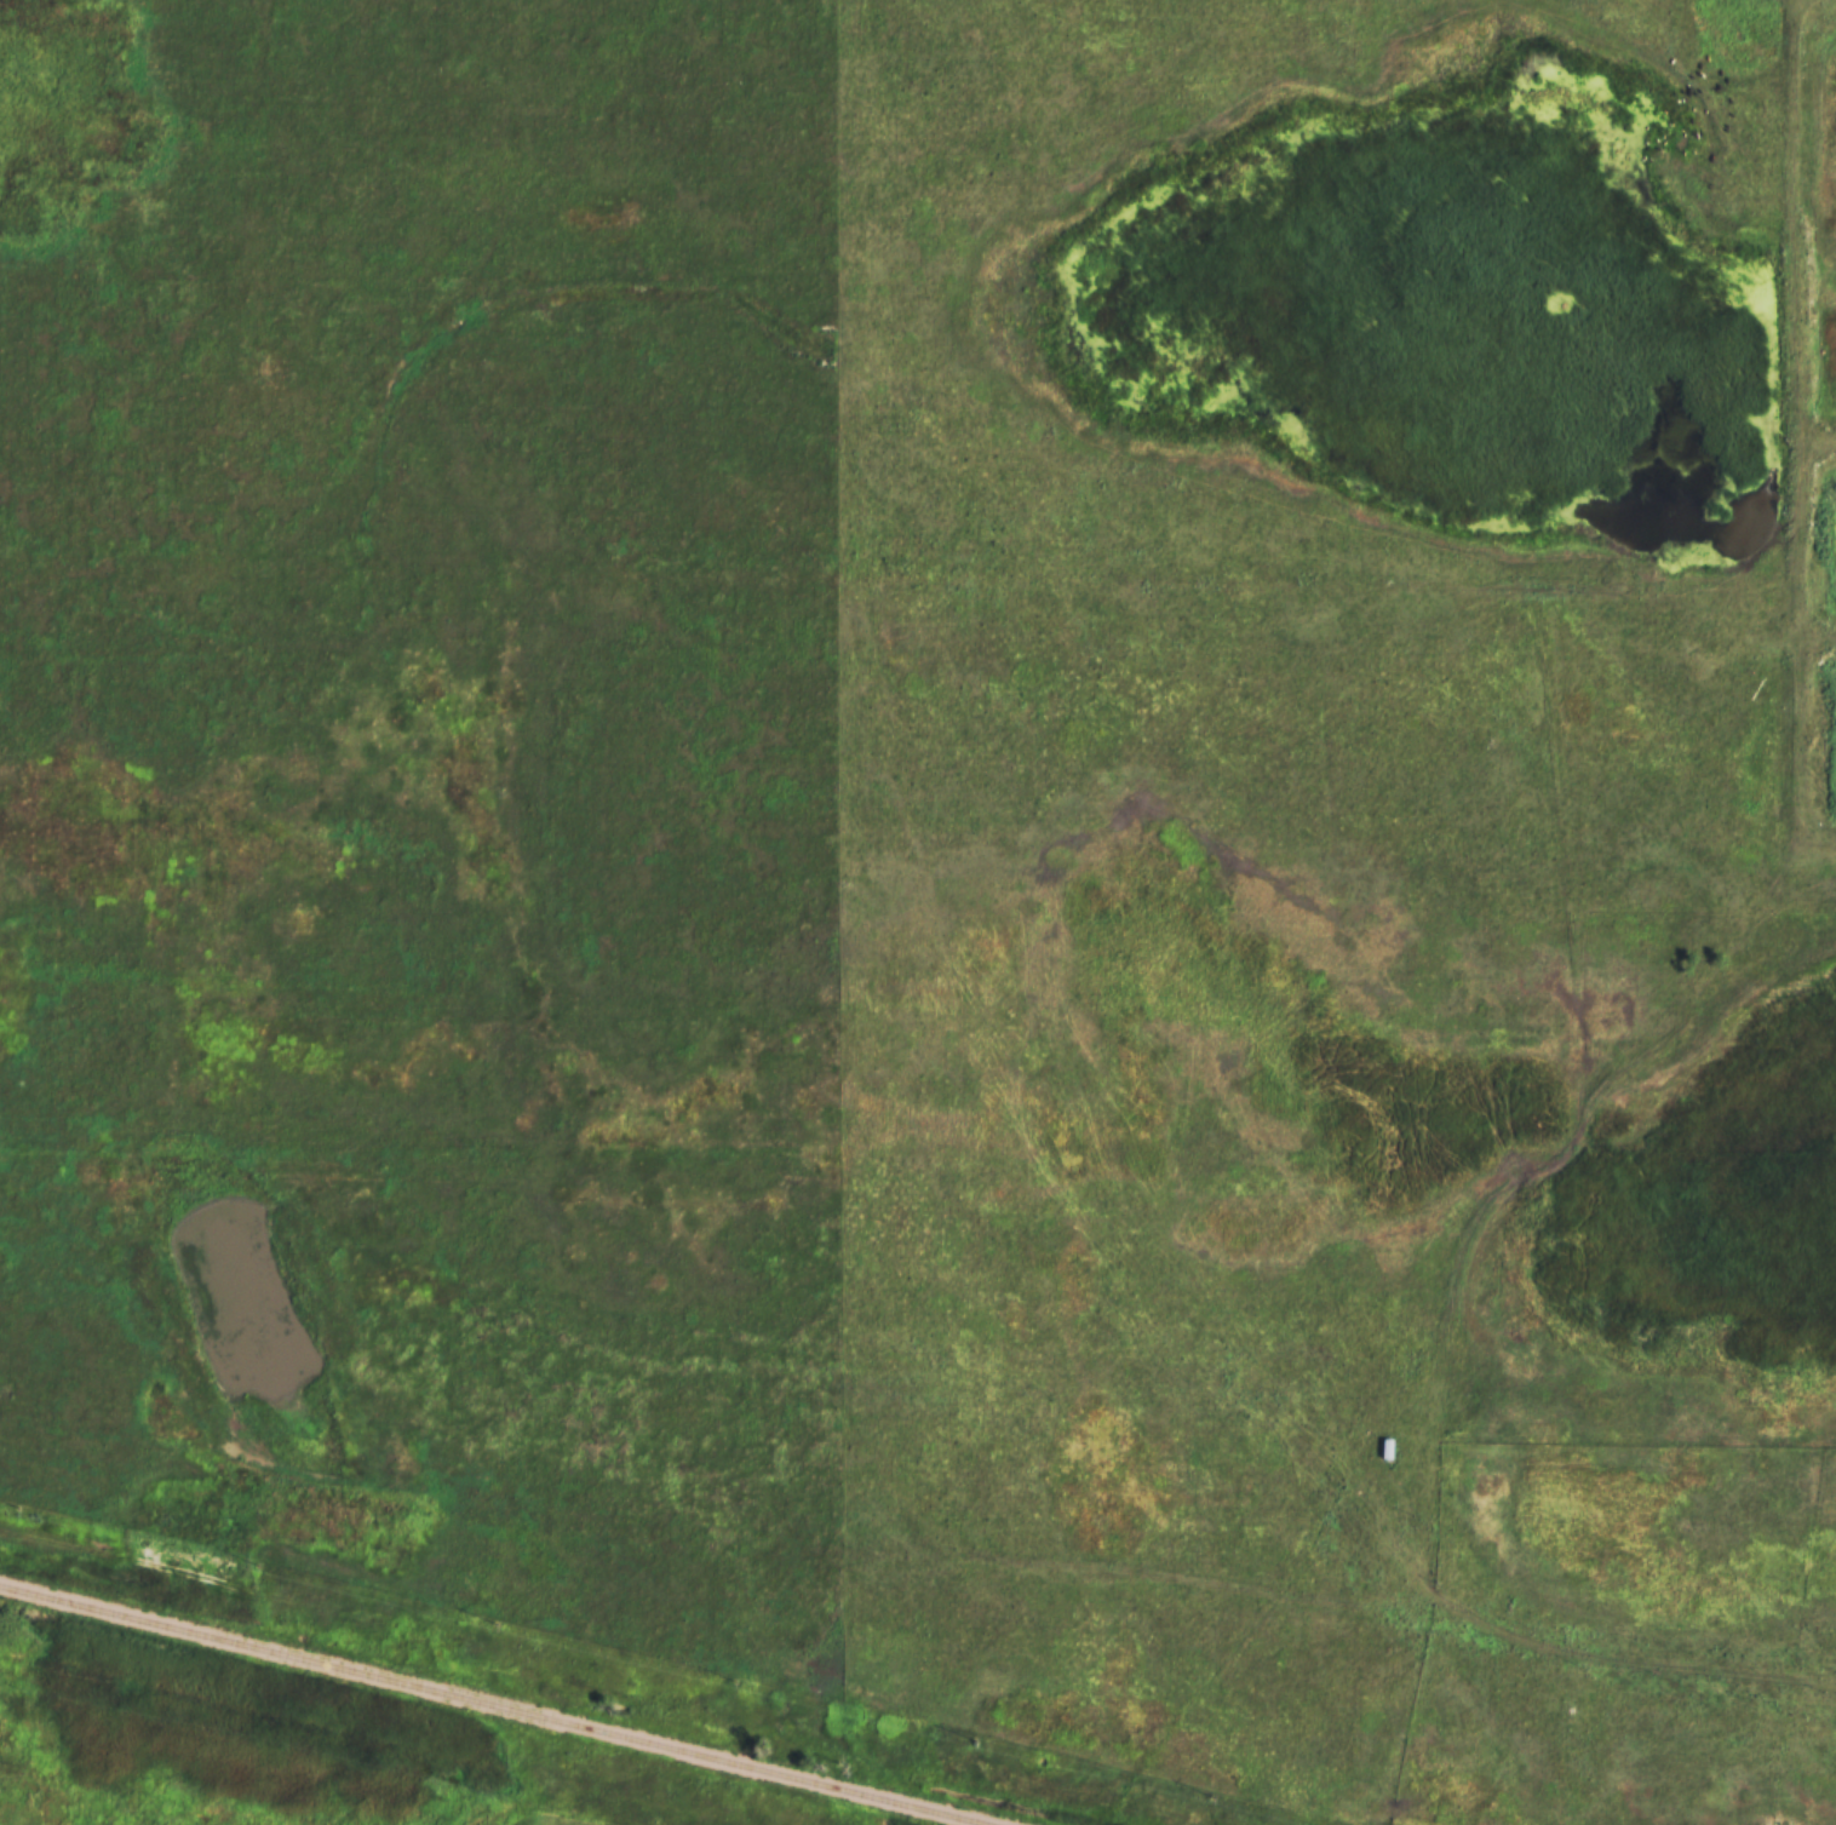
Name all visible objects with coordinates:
building: (1379, 1448)
road: (1750, 1665)
railway: (492, 1704)

